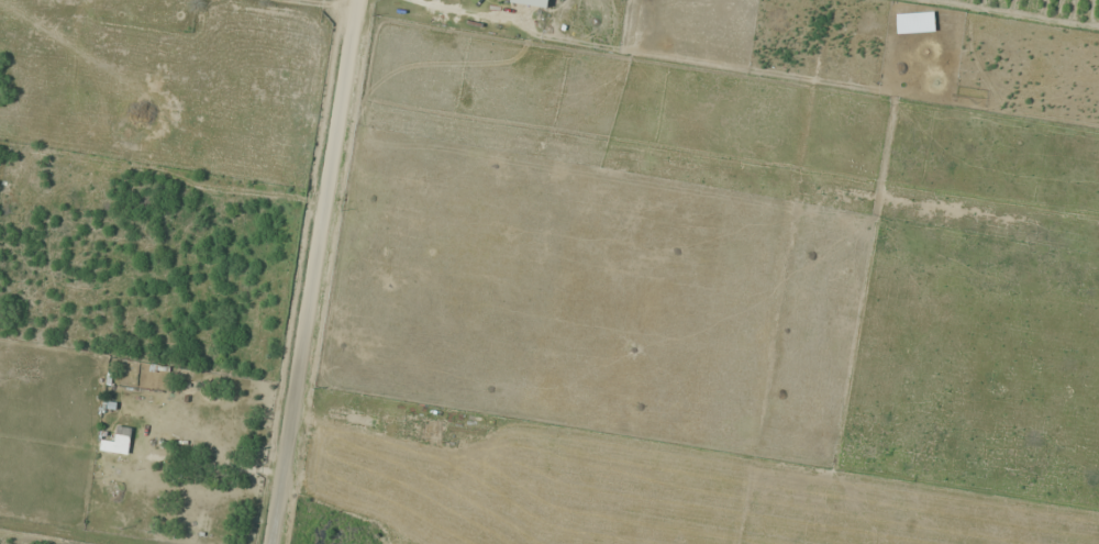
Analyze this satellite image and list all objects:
road: (291, 271)
building: (116, 444)

